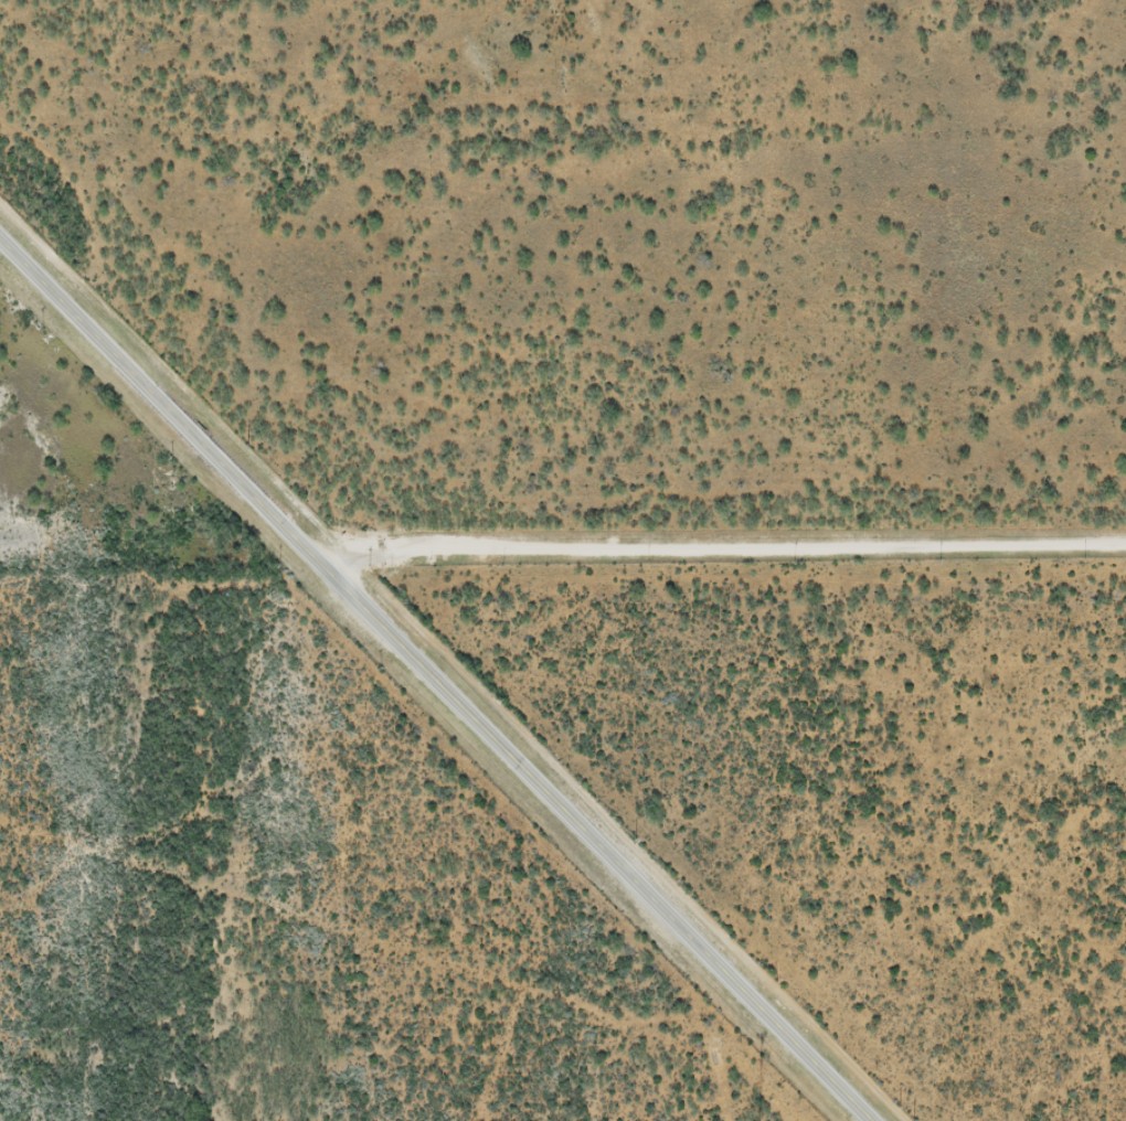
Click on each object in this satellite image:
road: (733, 551)
road: (439, 685)
road: (769, 807)

